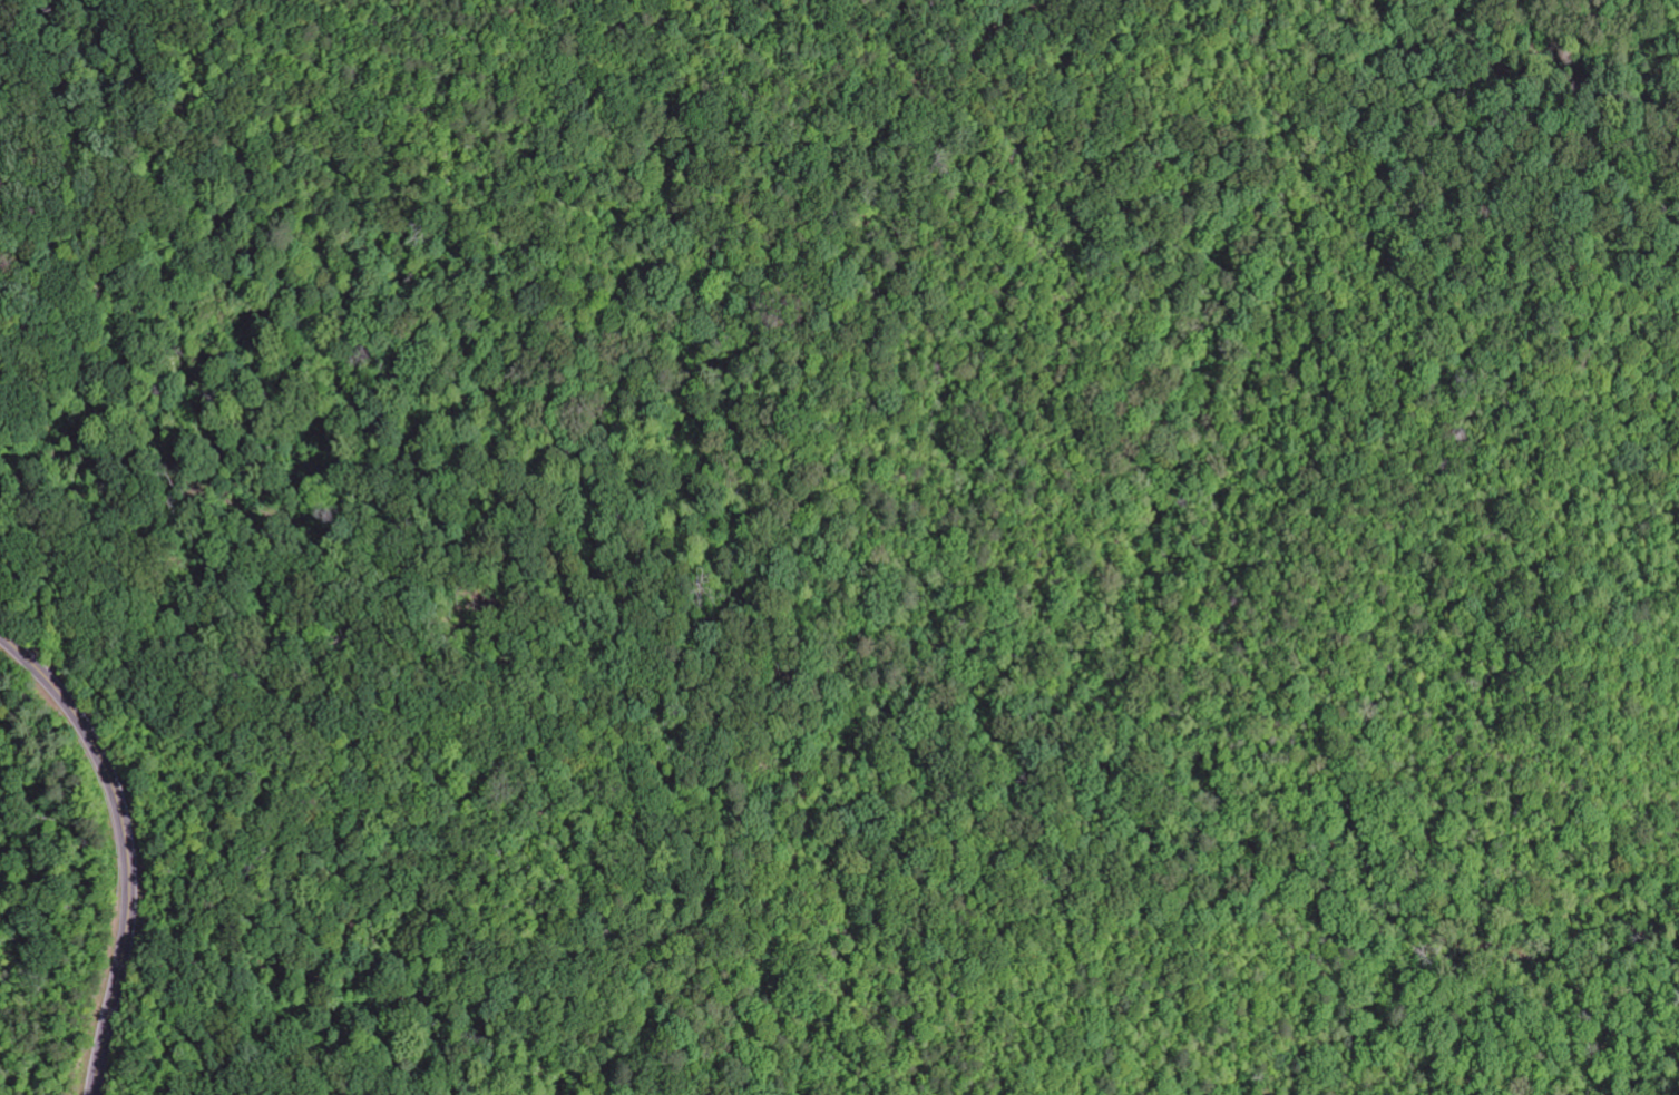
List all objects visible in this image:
road: (124, 844)

